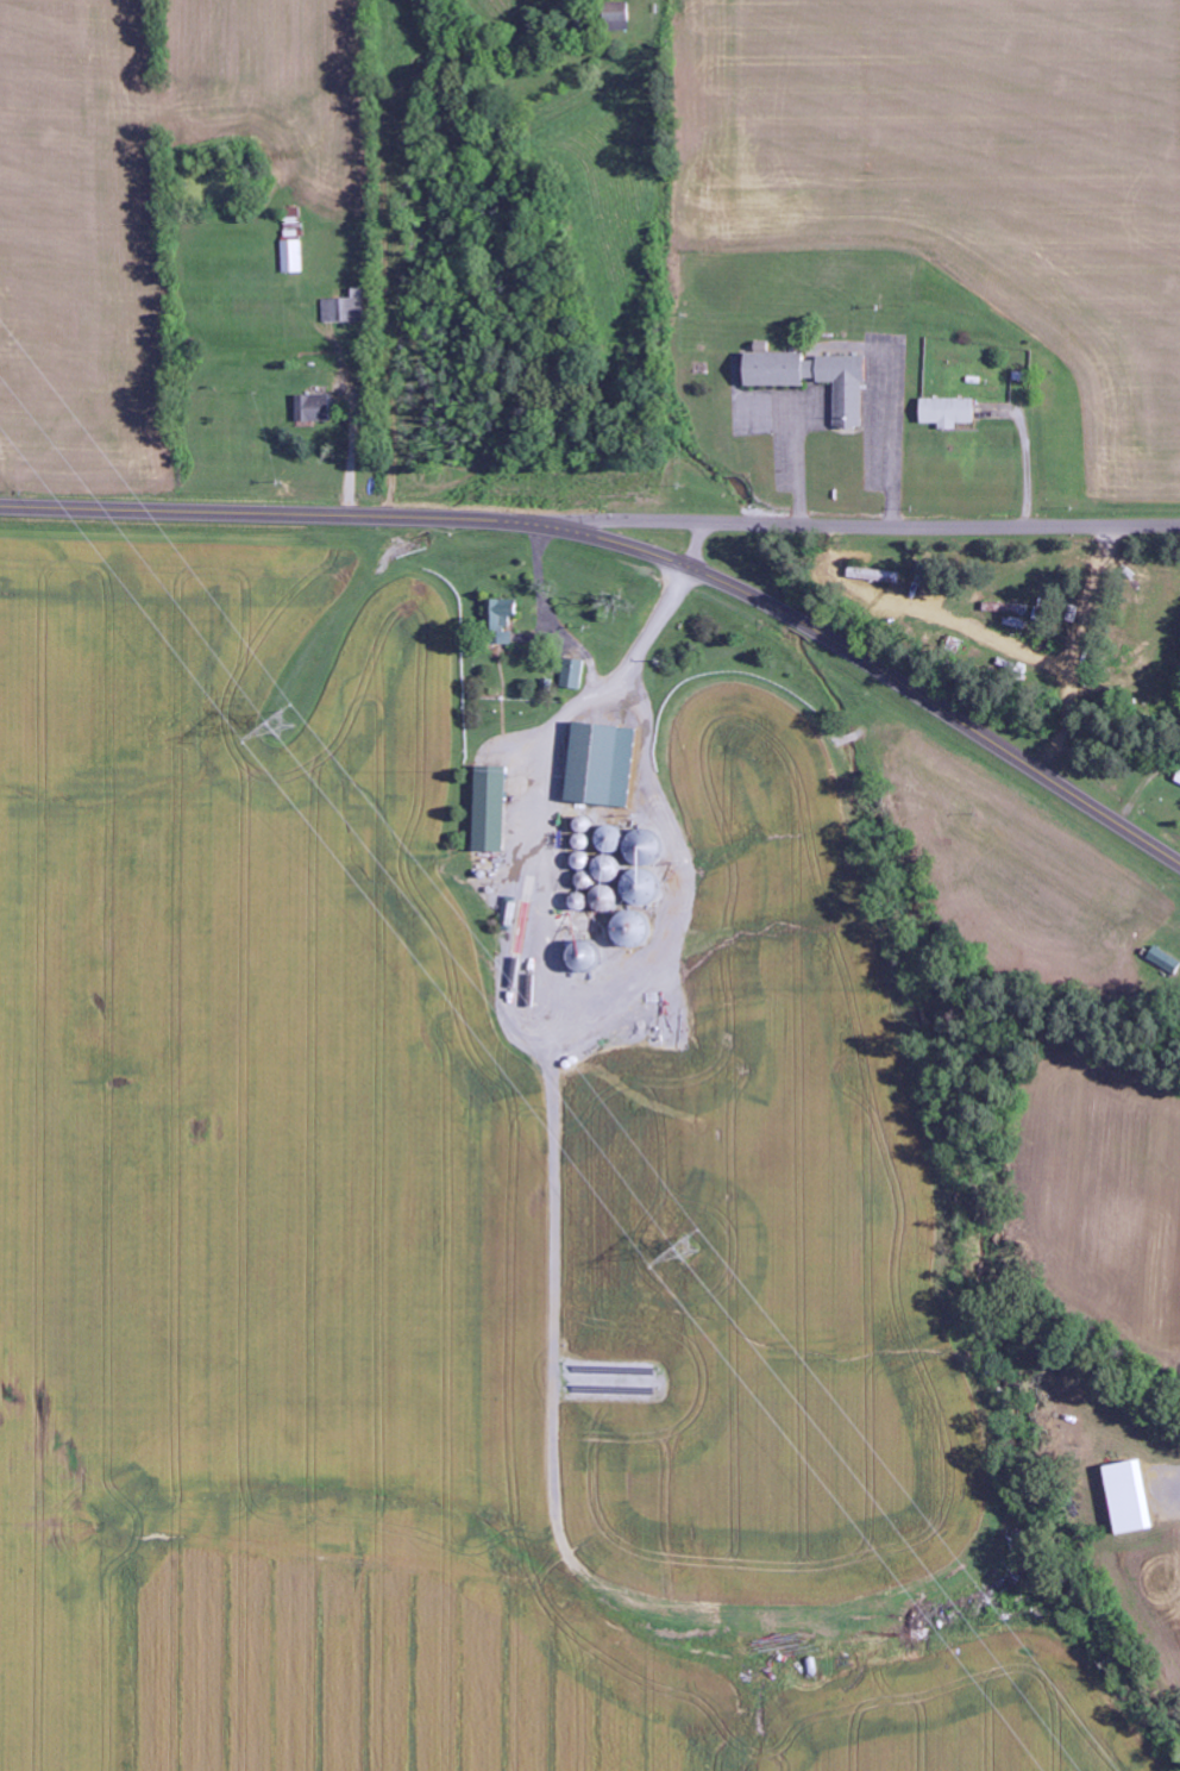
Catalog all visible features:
building: (616, 17)
road: (118, 233)
building: (293, 256)
building: (345, 308)
building: (815, 378)
building: (314, 408)
building: (948, 412)
road: (607, 521)
road: (943, 525)
road: (698, 545)
road: (630, 547)
building: (873, 576)
building: (502, 621)
building: (573, 674)
power tower: (281, 720)
building: (602, 764)
building: (490, 808)
building: (509, 913)
power tower: (689, 1249)
building: (1130, 1498)

